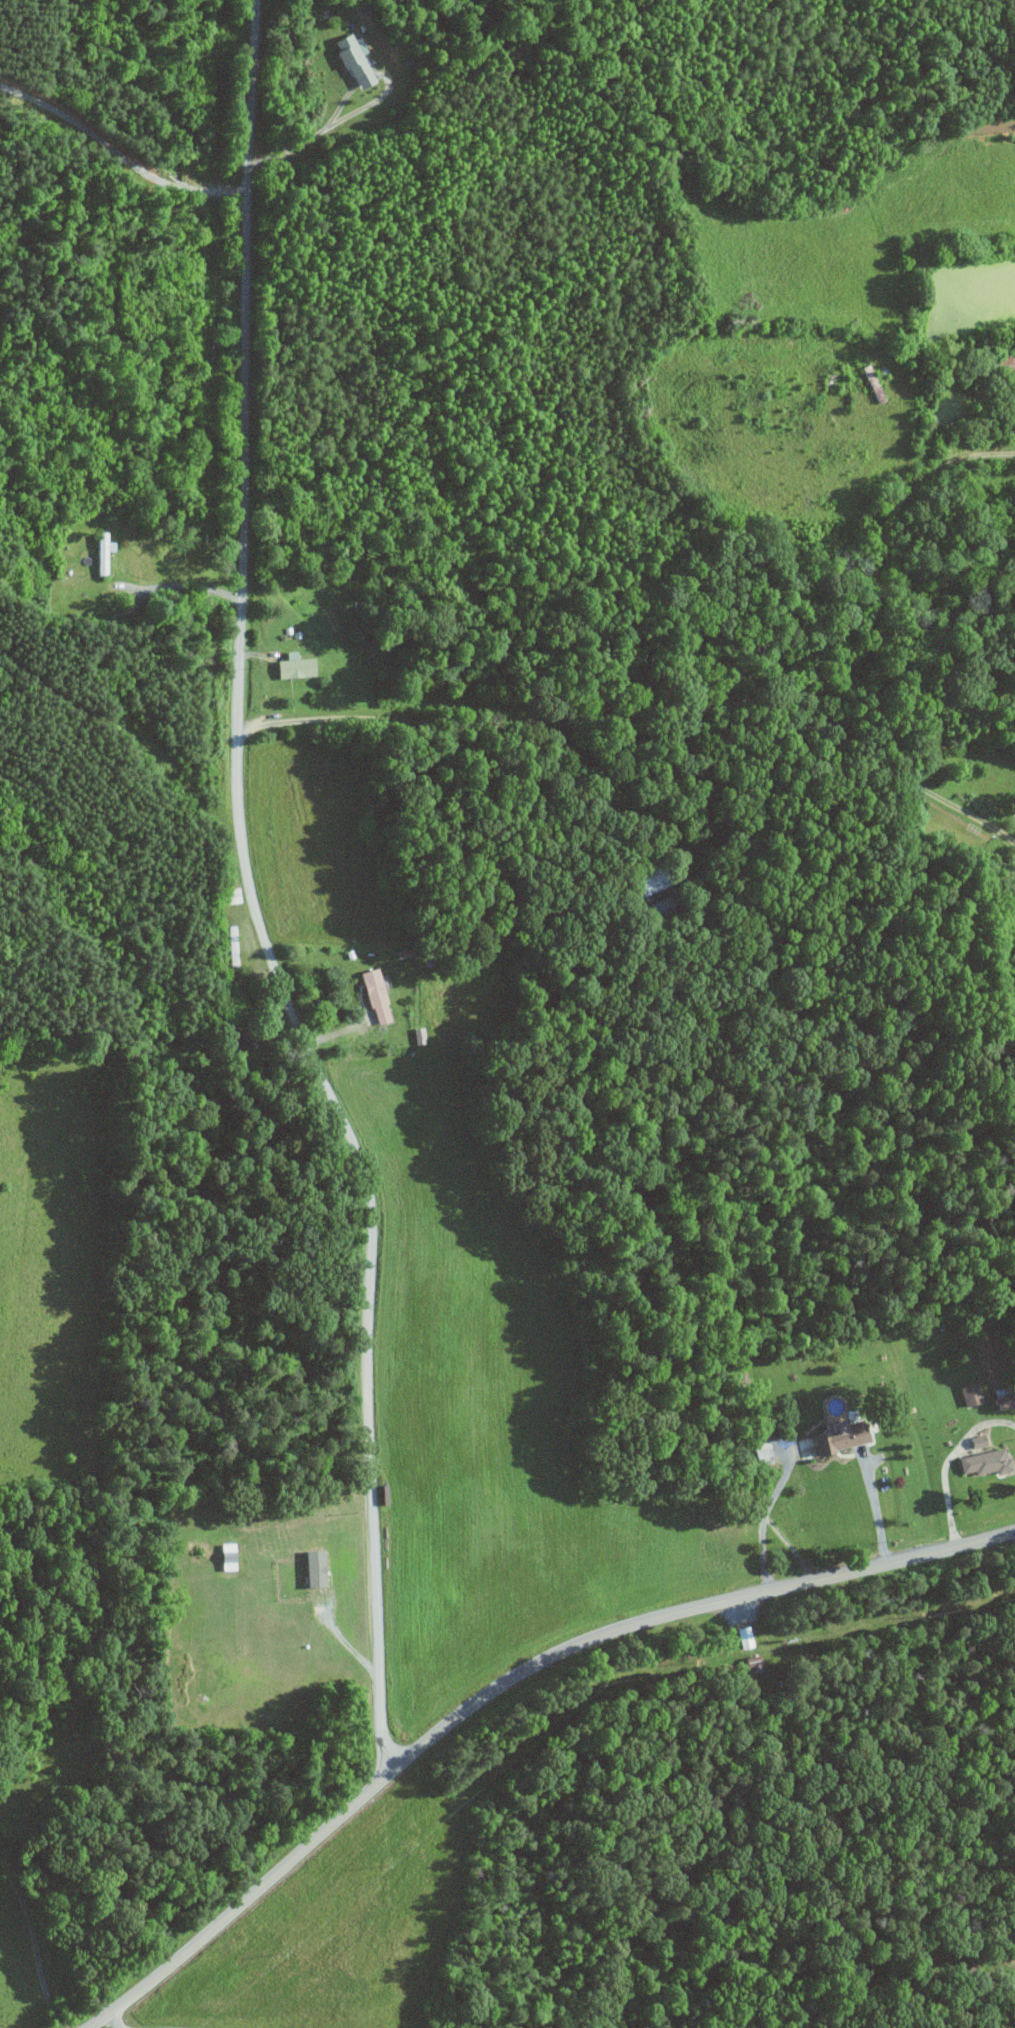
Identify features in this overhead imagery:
building: (358, 59)
road: (306, 139)
road: (122, 151)
building: (107, 551)
road: (190, 586)
building: (299, 665)
road: (704, 705)
road: (903, 777)
road: (253, 901)
building: (379, 995)
building: (967, 1393)
building: (1000, 1401)
building: (835, 1436)
building: (761, 1451)
road: (944, 1461)
building: (982, 1461)
road: (874, 1508)
road: (766, 1513)
building: (320, 1567)
building: (743, 1637)
road: (343, 1640)
road: (502, 1689)
road: (31, 1942)
road: (116, 2025)
road: (121, 2026)

